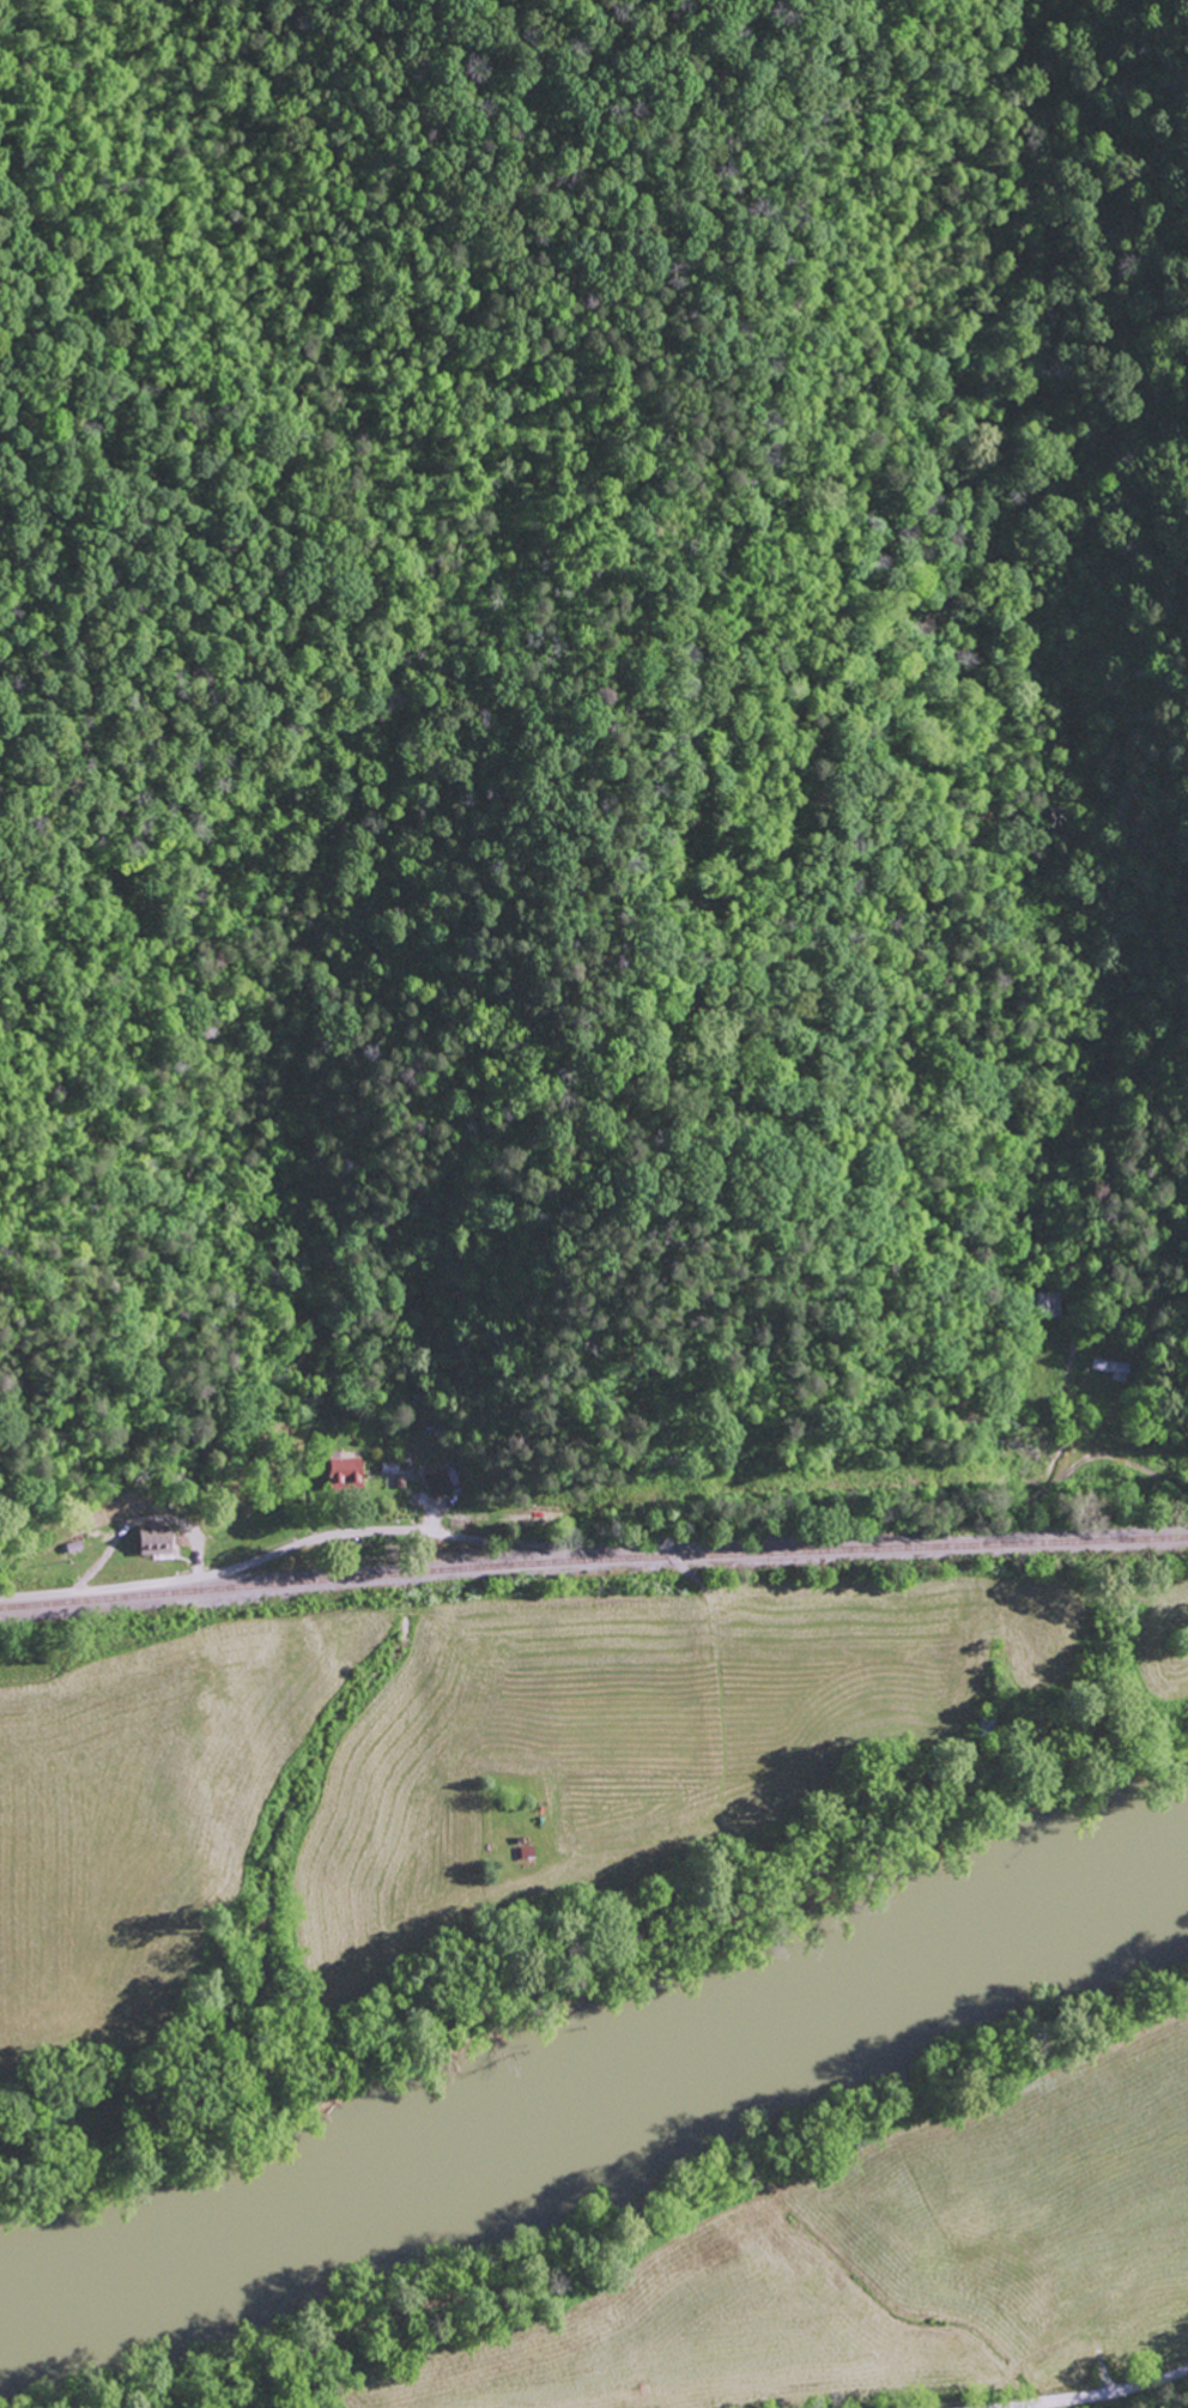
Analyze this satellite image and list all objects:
building: (344, 1472)
building: (437, 1482)
building: (152, 1539)
road: (247, 1563)
railway: (593, 1579)
river: (601, 2097)
road: (1103, 2389)

